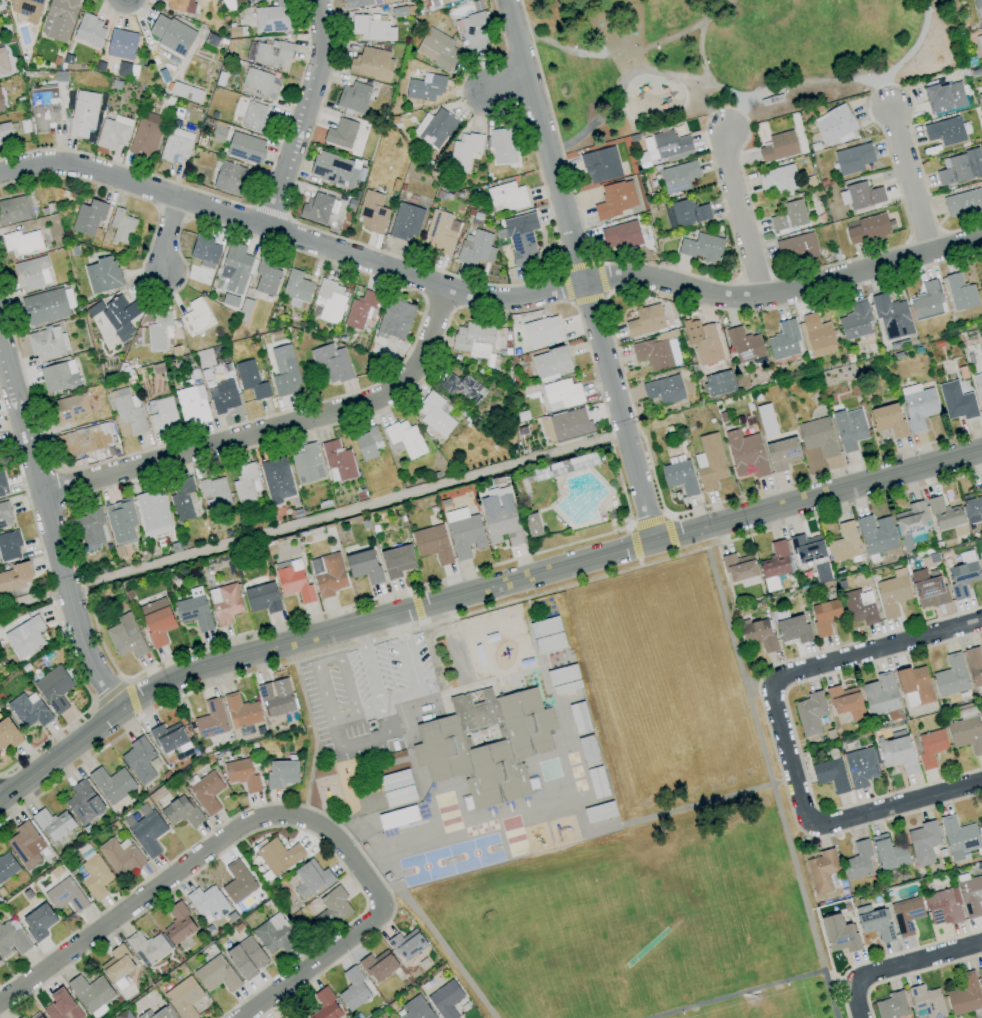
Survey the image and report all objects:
building: (375, 0)
building: (251, 1)
building: (440, 1)
building: (356, 3)
building: (180, 5)
building: (28, 9)
building: (978, 10)
building: (273, 17)
building: (58, 20)
building: (371, 28)
building: (90, 31)
building: (474, 32)
building: (171, 35)
building: (122, 44)
building: (979, 45)
building: (437, 48)
building: (269, 52)
road: (700, 55)
park: (722, 56)
building: (2, 63)
building: (371, 63)
road: (639, 75)
road: (506, 81)
building: (259, 82)
building: (421, 88)
building: (186, 92)
building: (943, 96)
building: (353, 97)
road: (887, 97)
building: (3, 99)
road: (743, 100)
building: (46, 110)
road: (708, 110)
building: (84, 113)
road: (306, 113)
building: (255, 116)
road: (671, 116)
road: (732, 116)
building: (833, 123)
road: (699, 127)
building: (434, 128)
building: (945, 131)
building: (114, 132)
building: (147, 132)
building: (3, 134)
building: (341, 134)
building: (176, 144)
building: (245, 145)
building: (502, 146)
building: (671, 146)
building: (779, 147)
building: (463, 151)
building: (852, 158)
building: (600, 160)
building: (960, 167)
building: (332, 168)
building: (678, 176)
building: (233, 178)
building: (778, 178)
road: (911, 185)
building: (860, 196)
building: (506, 197)
building: (614, 200)
building: (963, 204)
building: (317, 207)
building: (15, 209)
building: (373, 211)
building: (684, 213)
road: (738, 213)
building: (89, 215)
building: (789, 216)
building: (405, 222)
building: (122, 225)
building: (867, 228)
building: (440, 232)
road: (170, 234)
building: (620, 235)
building: (521, 239)
building: (22, 241)
building: (701, 247)
building: (204, 248)
building: (475, 248)
building: (796, 248)
building: (236, 259)
road: (578, 272)
building: (30, 273)
building: (102, 274)
building: (267, 276)
building: (297, 288)
building: (960, 293)
road: (484, 295)
building: (331, 301)
building: (926, 301)
building: (45, 306)
building: (361, 310)
building: (123, 315)
building: (197, 316)
building: (891, 317)
building: (395, 319)
building: (645, 320)
building: (855, 320)
building: (159, 330)
building: (541, 331)
building: (817, 336)
building: (473, 339)
building: (784, 340)
building: (45, 343)
building: (706, 345)
building: (744, 345)
building: (657, 352)
building: (333, 362)
building: (551, 362)
building: (286, 371)
building: (58, 378)
building: (252, 379)
building: (462, 387)
building: (664, 389)
building: (978, 389)
building: (562, 394)
building: (224, 395)
building: (956, 401)
building: (192, 406)
building: (917, 406)
building: (70, 408)
building: (127, 411)
building: (164, 414)
building: (434, 414)
building: (766, 420)
building: (888, 420)
building: (569, 424)
road: (277, 427)
building: (849, 429)
building: (818, 437)
building: (88, 438)
building: (405, 438)
building: (366, 444)
building: (746, 454)
building: (782, 454)
building: (337, 461)
building: (709, 462)
building: (307, 463)
road: (825, 472)
building: (679, 477)
building: (276, 480)
building: (1, 482)
building: (246, 485)
building: (215, 491)
building: (182, 499)
building: (974, 503)
building: (153, 514)
building: (944, 514)
building: (4, 515)
road: (666, 515)
building: (500, 518)
building: (120, 522)
road: (647, 522)
building: (910, 523)
road: (50, 525)
building: (532, 525)
building: (90, 527)
road: (628, 527)
building: (464, 533)
road: (669, 533)
building: (876, 534)
road: (633, 543)
building: (844, 543)
building: (432, 544)
building: (9, 546)
building: (807, 548)
road: (675, 552)
building: (397, 561)
building: (775, 561)
road: (638, 562)
building: (364, 566)
building: (739, 567)
building: (981, 567)
building: (821, 572)
building: (328, 574)
building: (962, 574)
building: (15, 577)
building: (293, 580)
building: (927, 589)
road: (411, 591)
road: (476, 593)
building: (892, 593)
road: (375, 597)
building: (262, 598)
building: (224, 604)
road: (416, 607)
building: (859, 607)
building: (194, 610)
road: (474, 612)
building: (824, 616)
building: (157, 620)
road: (421, 623)
road: (401, 626)
building: (792, 629)
building: (758, 634)
building: (547, 635)
road: (362, 636)
building: (25, 637)
building: (126, 637)
road: (328, 662)
building: (974, 666)
road: (806, 670)
building: (951, 676)
road: (126, 679)
building: (563, 679)
building: (914, 686)
road: (759, 687)
building: (54, 688)
road: (109, 694)
building: (880, 694)
road: (401, 695)
road: (131, 697)
building: (276, 697)
building: (845, 701)
road: (90, 708)
building: (29, 710)
building: (241, 711)
building: (810, 713)
building: (981, 713)
road: (139, 717)
building: (211, 720)
road: (312, 732)
building: (8, 734)
building: (966, 734)
building: (168, 737)
road: (44, 740)
road: (366, 742)
building: (486, 743)
building: (930, 748)
building: (896, 751)
building: (139, 760)
building: (860, 767)
building: (241, 774)
building: (281, 774)
building: (830, 775)
road: (770, 782)
building: (112, 784)
building: (533, 785)
building: (206, 792)
road: (708, 801)
building: (83, 803)
road: (896, 804)
building: (181, 811)
building: (53, 824)
building: (980, 826)
building: (148, 833)
building: (958, 837)
park: (654, 842)
building: (923, 842)
building: (25, 845)
building: (888, 853)
building: (120, 856)
building: (278, 856)
road: (198, 857)
building: (858, 861)
building: (7, 866)
building: (821, 871)
building: (95, 876)
building: (310, 879)
building: (237, 882)
building: (65, 895)
building: (971, 896)
building: (207, 903)
building: (332, 906)
building: (943, 907)
park: (721, 913)
building: (906, 915)
park: (631, 919)
building: (38, 922)
building: (874, 922)
building: (178, 924)
building: (839, 934)
building: (274, 935)
building: (12, 939)
building: (406, 944)
road: (438, 944)
building: (147, 948)
building: (246, 957)
building: (117, 966)
building: (378, 966)
road: (900, 966)
road: (309, 967)
building: (216, 975)
building: (980, 975)
building: (353, 989)
road: (754, 989)
building: (90, 993)
building: (964, 995)
building: (184, 997)
building: (445, 999)
building: (927, 1001)
building: (61, 1005)
building: (325, 1005)
building: (891, 1006)
building: (415, 1008)
park: (773, 1013)
building: (158, 1014)
building: (36, 1015)
building: (21, 1017)
building: (282, 1017)

